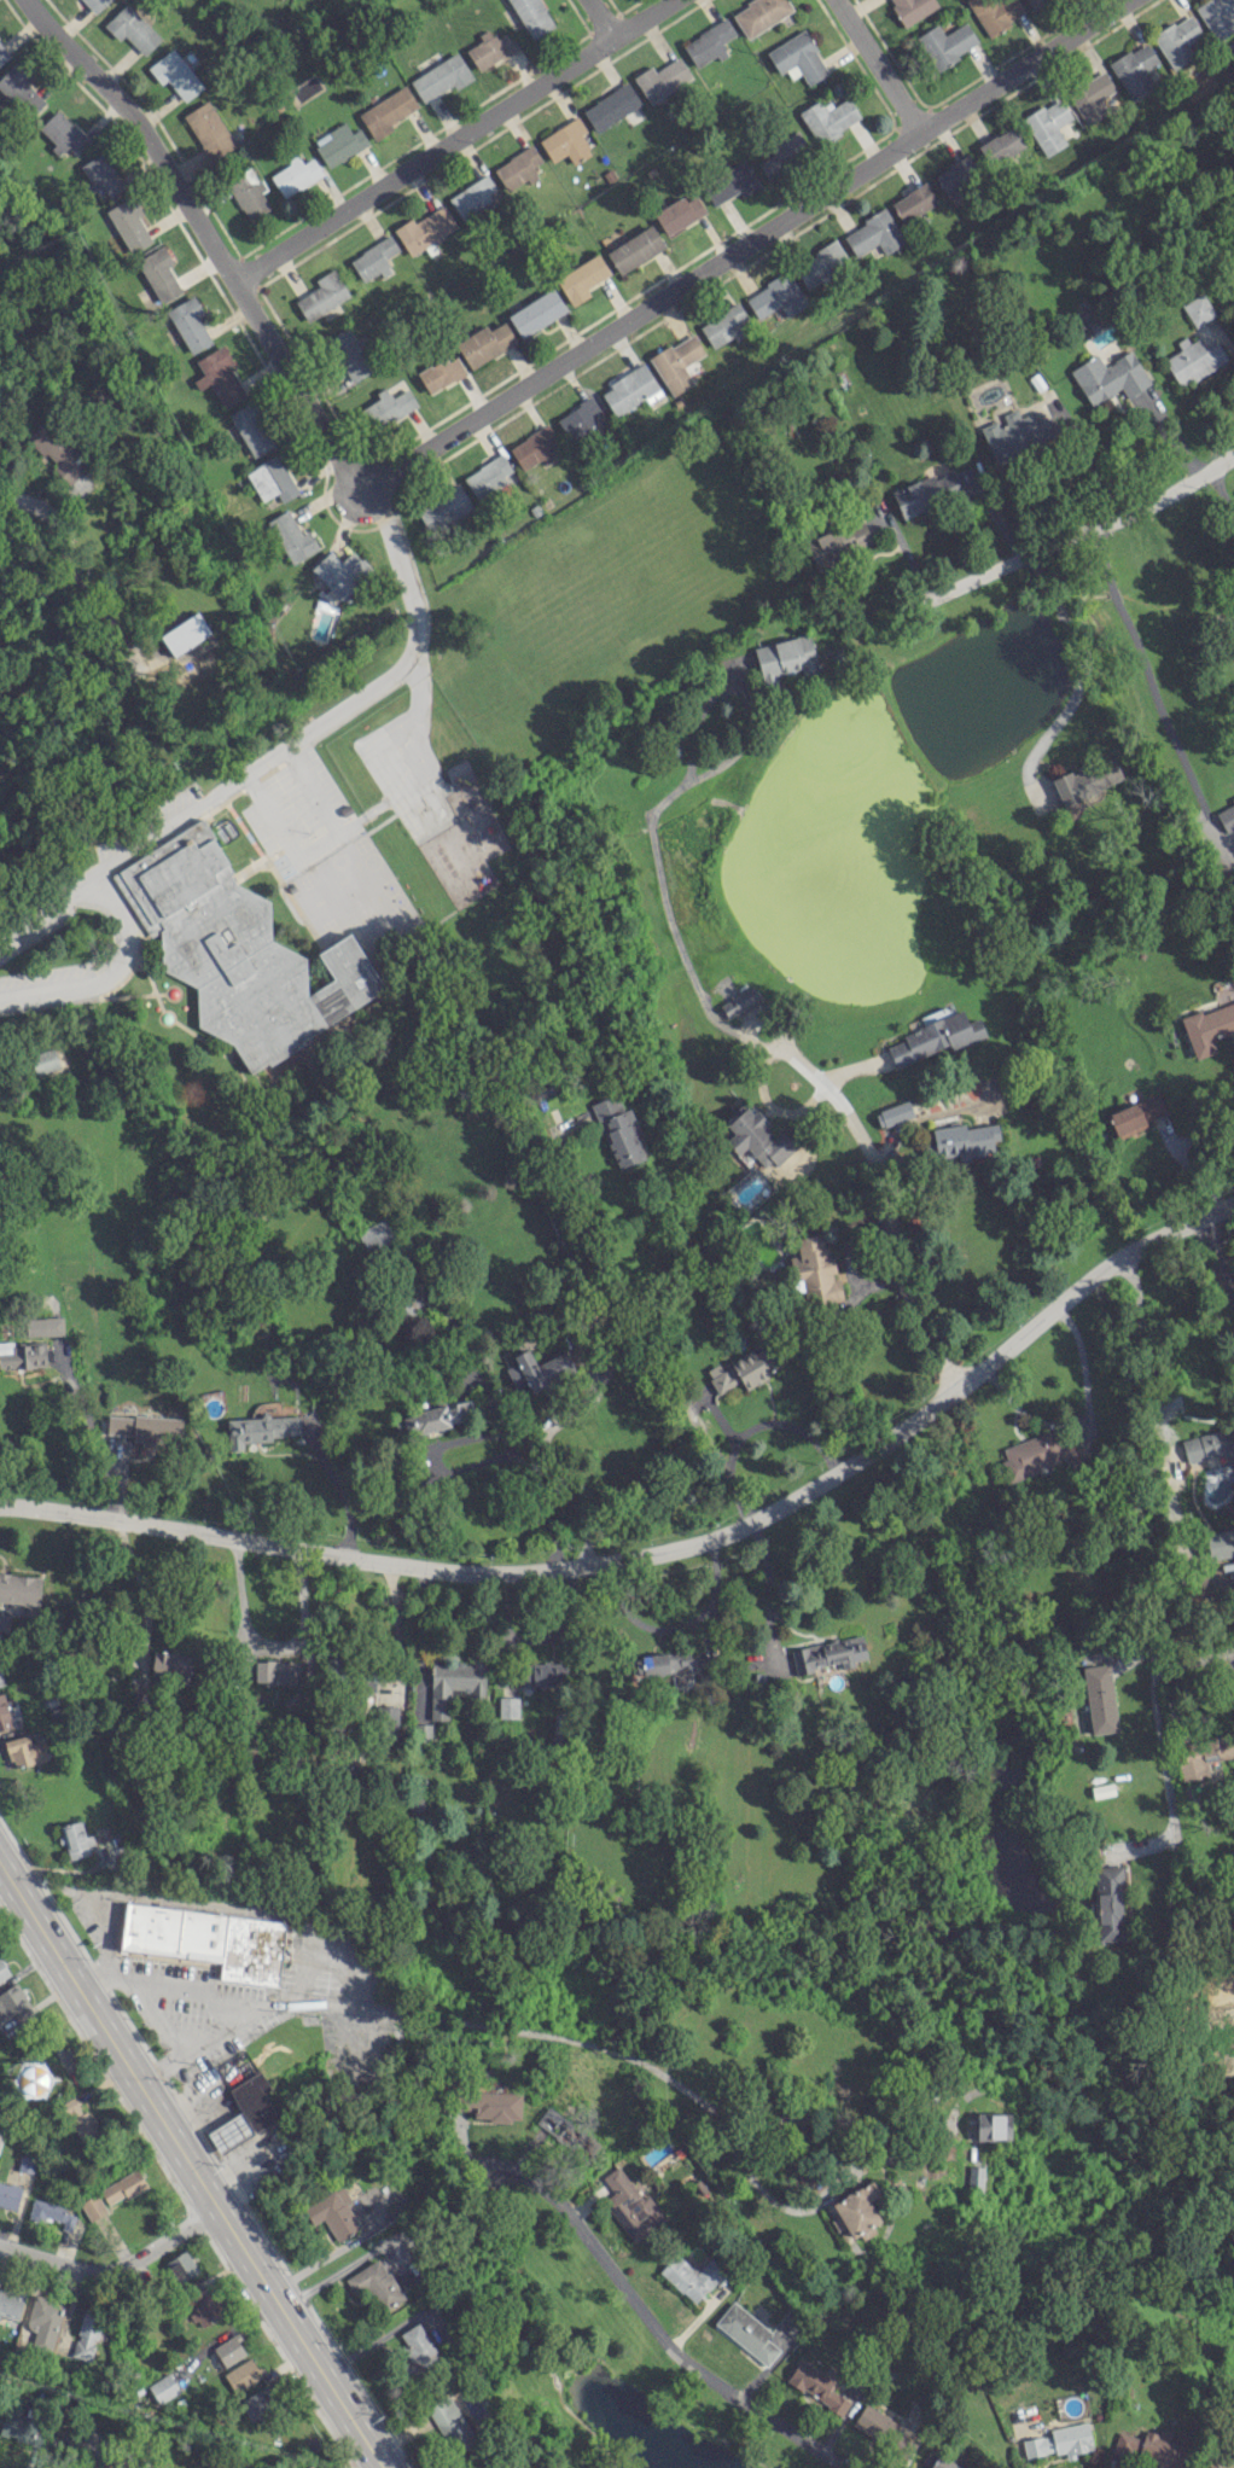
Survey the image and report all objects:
building: (1030, 1)
building: (94, 4)
building: (912, 8)
building: (995, 12)
building: (758, 14)
building: (532, 16)
building: (1217, 17)
road: (590, 23)
building: (132, 28)
building: (1178, 40)
building: (708, 42)
building: (945, 43)
building: (489, 48)
building: (2, 54)
building: (797, 58)
road: (871, 66)
building: (1137, 70)
building: (175, 74)
building: (441, 76)
building: (660, 78)
building: (21, 91)
building: (1090, 97)
building: (610, 106)
building: (386, 112)
building: (828, 117)
building: (1047, 124)
building: (208, 129)
building: (64, 133)
road: (458, 138)
building: (566, 141)
building: (339, 142)
building: (1000, 145)
building: (784, 152)
building: (517, 168)
building: (100, 174)
building: (955, 174)
building: (293, 175)
building: (730, 182)
building: (248, 196)
building: (473, 197)
building: (913, 202)
building: (677, 213)
building: (128, 223)
building: (424, 231)
building: (873, 234)
road: (215, 238)
road: (739, 244)
building: (634, 249)
building: (373, 258)
building: (820, 263)
building: (158, 273)
building: (581, 278)
building: (321, 295)
building: (775, 296)
building: (1197, 309)
building: (536, 312)
building: (188, 324)
building: (724, 325)
building: (484, 343)
building: (348, 354)
building: (1193, 360)
building: (676, 362)
building: (440, 372)
building: (217, 376)
building: (1108, 377)
building: (630, 389)
building: (388, 407)
building: (577, 418)
building: (250, 429)
building: (1009, 431)
building: (535, 448)
building: (59, 456)
building: (488, 475)
building: (270, 479)
building: (927, 493)
road: (1221, 493)
road: (40, 501)
building: (443, 507)
road: (1083, 530)
building: (291, 536)
building: (838, 542)
building: (340, 571)
road: (88, 596)
road: (413, 615)
building: (185, 633)
building: (784, 658)
road: (1078, 680)
road: (1149, 681)
building: (1087, 779)
road: (208, 794)
building: (1227, 816)
road: (47, 900)
building: (235, 950)
road: (110, 971)
building: (739, 1001)
building: (1207, 1028)
building: (933, 1037)
road: (745, 1040)
building: (43, 1060)
building: (892, 1113)
building: (1134, 1114)
building: (619, 1130)
building: (757, 1137)
building: (964, 1140)
road: (883, 1204)
building: (376, 1236)
road: (1212, 1264)
building: (815, 1270)
building: (411, 1304)
road: (1031, 1323)
building: (43, 1326)
building: (22, 1354)
road: (665, 1367)
building: (744, 1368)
building: (537, 1369)
building: (437, 1416)
road: (776, 1421)
building: (145, 1427)
building: (258, 1428)
road: (489, 1432)
road: (94, 1439)
building: (1207, 1444)
building: (1042, 1451)
road: (1146, 1462)
road: (566, 1491)
road: (344, 1500)
building: (1220, 1543)
road: (427, 1570)
road: (764, 1581)
building: (19, 1589)
building: (4, 1622)
road: (396, 1626)
road: (676, 1626)
road: (712, 1634)
road: (270, 1641)
building: (828, 1653)
road: (1193, 1661)
building: (170, 1664)
building: (667, 1664)
building: (275, 1671)
building: (540, 1674)
building: (1, 1678)
building: (367, 1682)
building: (453, 1683)
building: (1099, 1698)
building: (508, 1706)
building: (4, 1715)
building: (388, 1719)
building: (24, 1750)
road: (1162, 1751)
building: (1203, 1754)
building: (1101, 1789)
building: (499, 1806)
building: (76, 1839)
building: (1108, 1902)
building: (206, 1939)
building: (2, 1971)
building: (13, 2004)
road: (607, 2050)
building: (491, 2105)
building: (80, 2119)
building: (993, 2126)
building: (559, 2129)
building: (229, 2132)
building: (0, 2135)
road: (194, 2167)
building: (974, 2178)
building: (122, 2187)
building: (8, 2195)
building: (629, 2204)
building: (92, 2206)
building: (856, 2210)
building: (51, 2212)
building: (332, 2213)
road: (327, 2254)
road: (116, 2265)
building: (180, 2266)
building: (691, 2276)
building: (374, 2284)
road: (627, 2295)
building: (10, 2303)
building: (202, 2306)
building: (42, 2321)
building: (746, 2332)
building: (86, 2335)
building: (229, 2350)
building: (418, 2350)
building: (241, 2374)
building: (816, 2386)
building: (163, 2387)
building: (257, 2402)
building: (450, 2423)
building: (22, 2427)
building: (883, 2428)
building: (1060, 2440)
building: (85, 2443)
building: (1149, 2449)
building: (936, 2461)
building: (514, 2466)
building: (1211, 2466)

